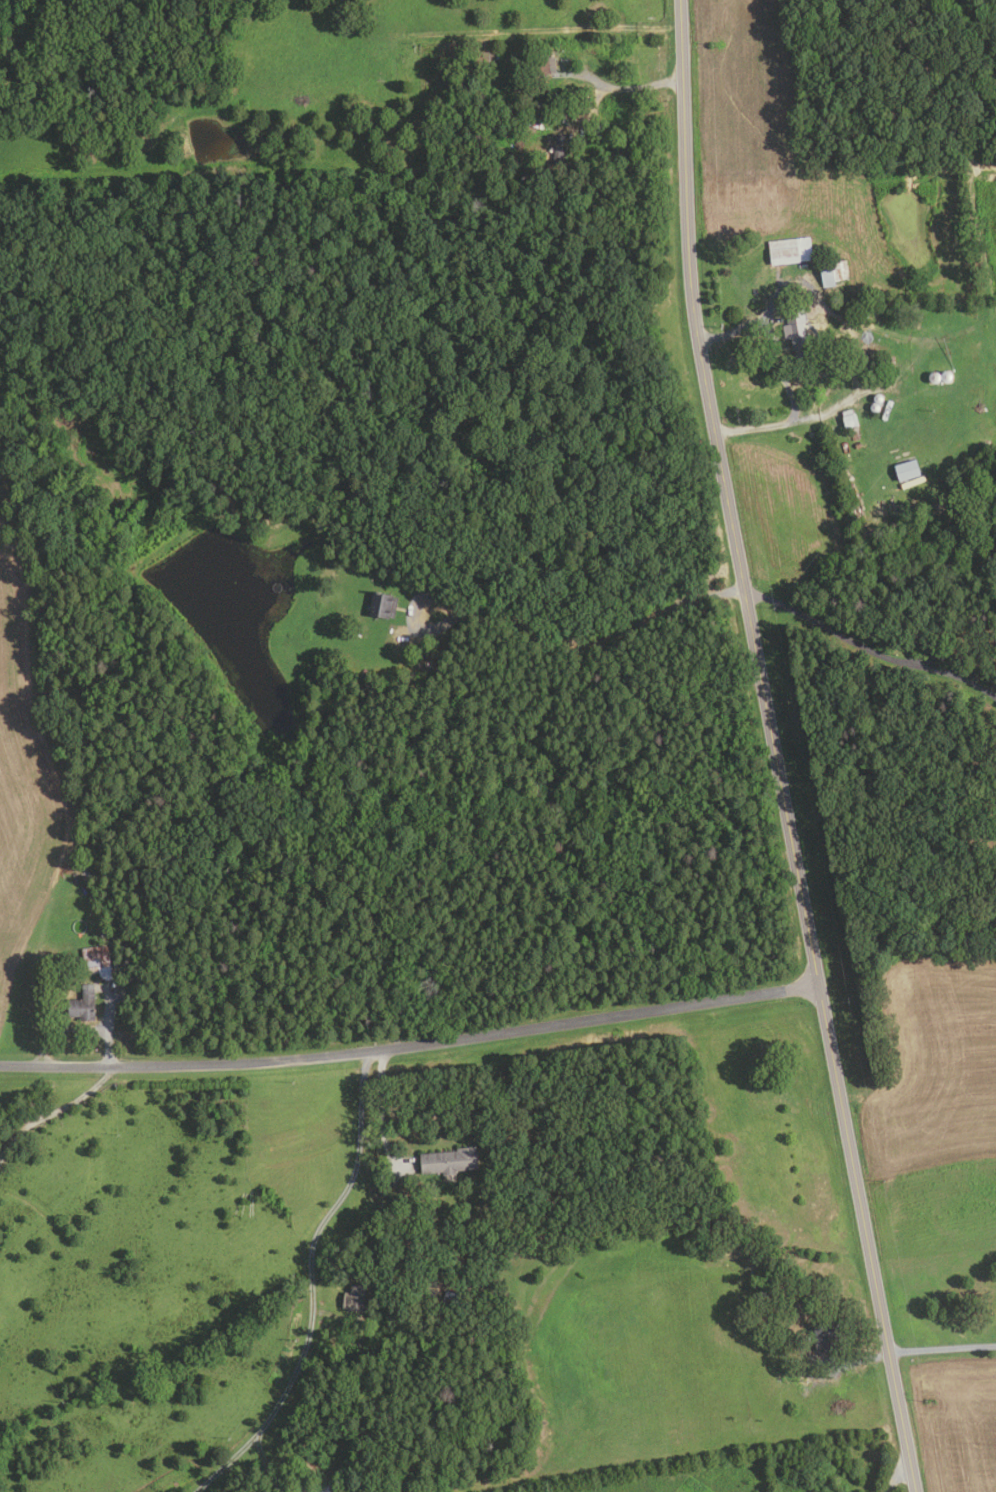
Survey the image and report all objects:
building: (543, 66)
road: (631, 86)
building: (544, 108)
building: (557, 150)
building: (790, 251)
building: (832, 272)
building: (753, 291)
building: (799, 335)
road: (773, 337)
building: (842, 347)
building: (875, 354)
building: (889, 362)
building: (875, 377)
building: (934, 377)
silo: (934, 377)
building: (946, 377)
silo: (946, 377)
building: (878, 398)
silo: (878, 398)
building: (874, 407)
silo: (874, 407)
building: (849, 419)
road: (768, 425)
building: (854, 434)
building: (857, 446)
building: (906, 470)
building: (383, 606)
road: (827, 623)
road: (952, 652)
road: (570, 653)
road: (953, 669)
building: (317, 683)
road: (772, 748)
building: (99, 968)
building: (81, 1007)
road: (107, 1028)
road: (410, 1044)
road: (56, 1107)
road: (381, 1118)
building: (449, 1160)
road: (311, 1237)
building: (766, 1294)
building: (354, 1297)
building: (454, 1300)
road: (334, 1315)
building: (826, 1334)
road: (942, 1349)
road: (853, 1361)
road: (228, 1457)
road: (263, 1458)
building: (729, 1462)
road: (894, 1475)
building: (322, 1489)

